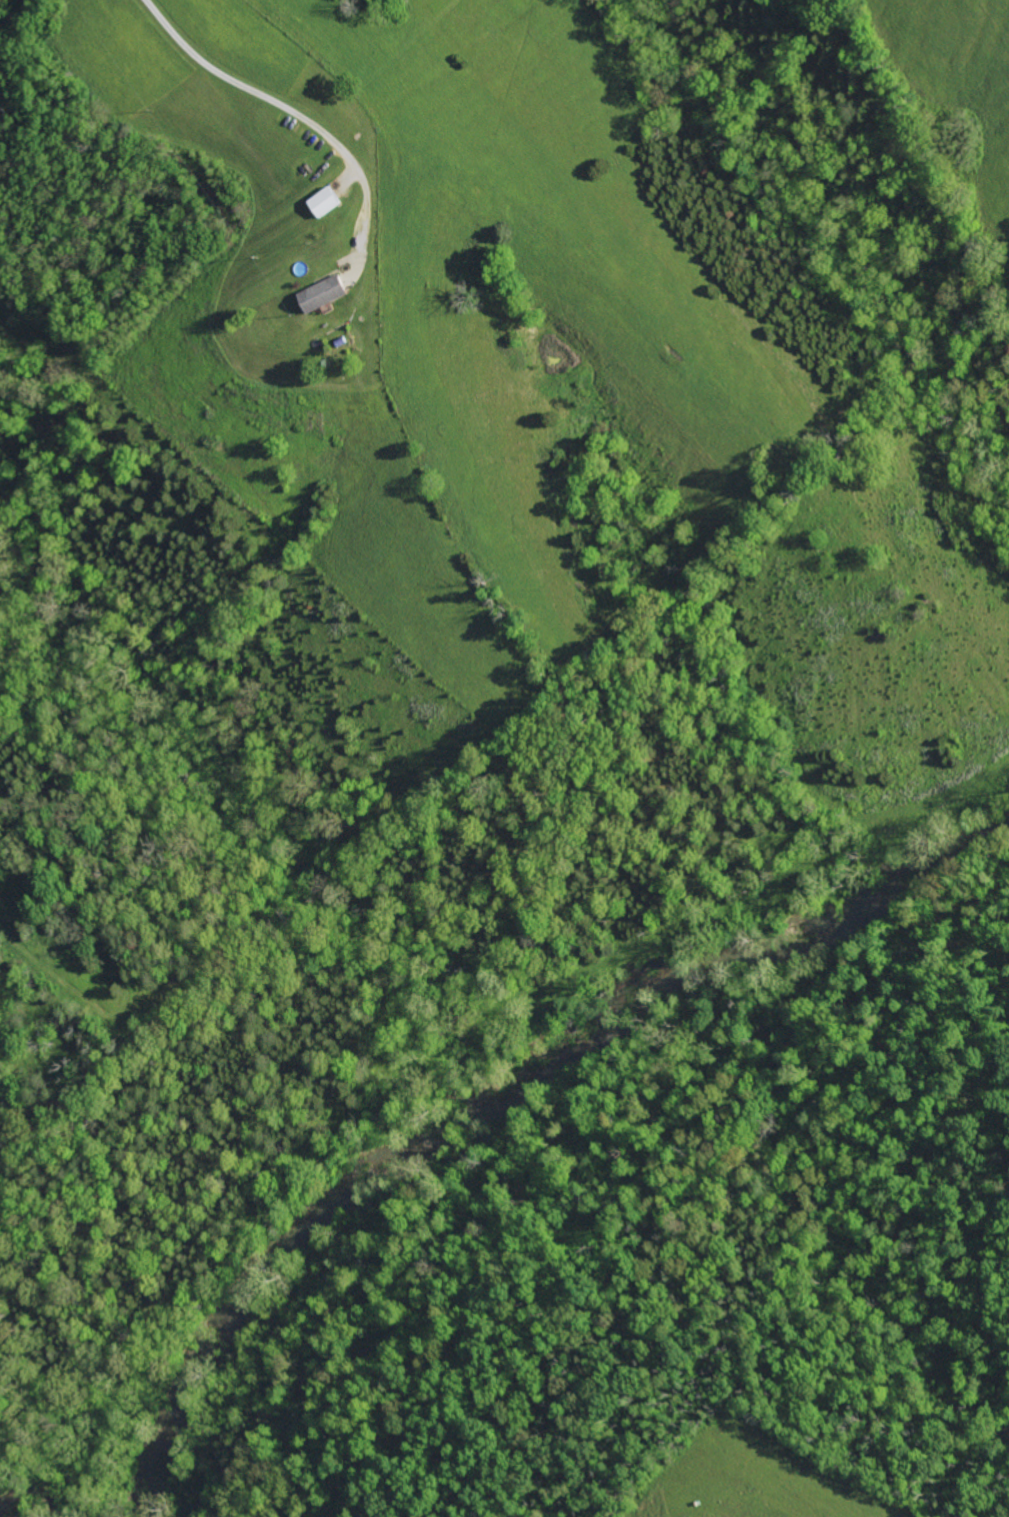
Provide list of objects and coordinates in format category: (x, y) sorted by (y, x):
road: (265, 96)
building: (327, 202)
building: (326, 294)

